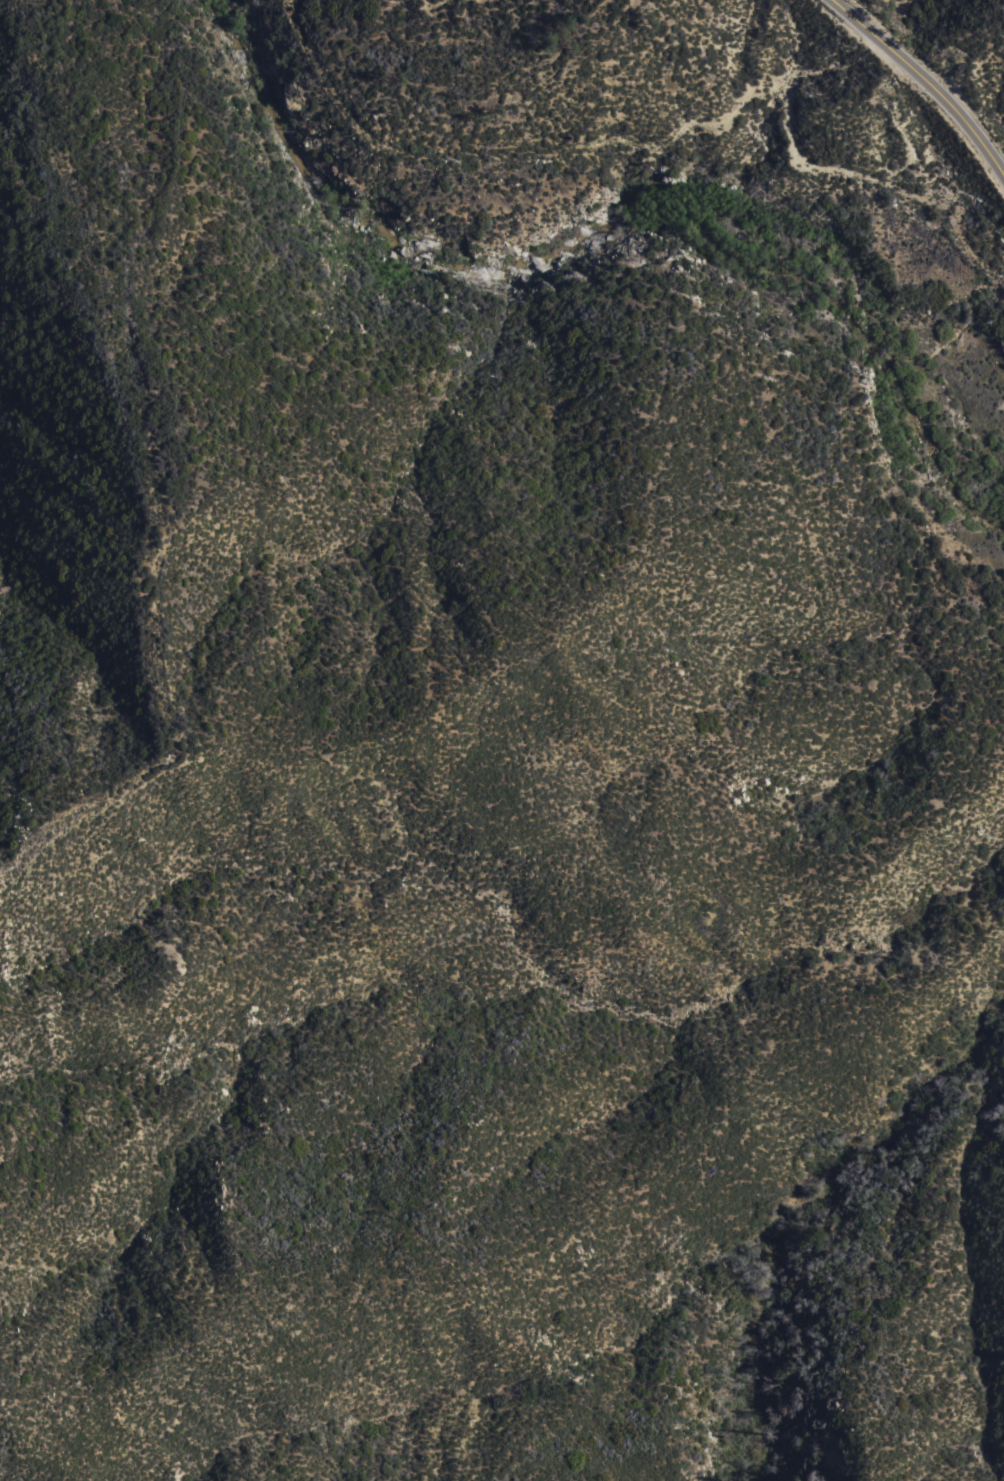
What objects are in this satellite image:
road: (926, 81)

